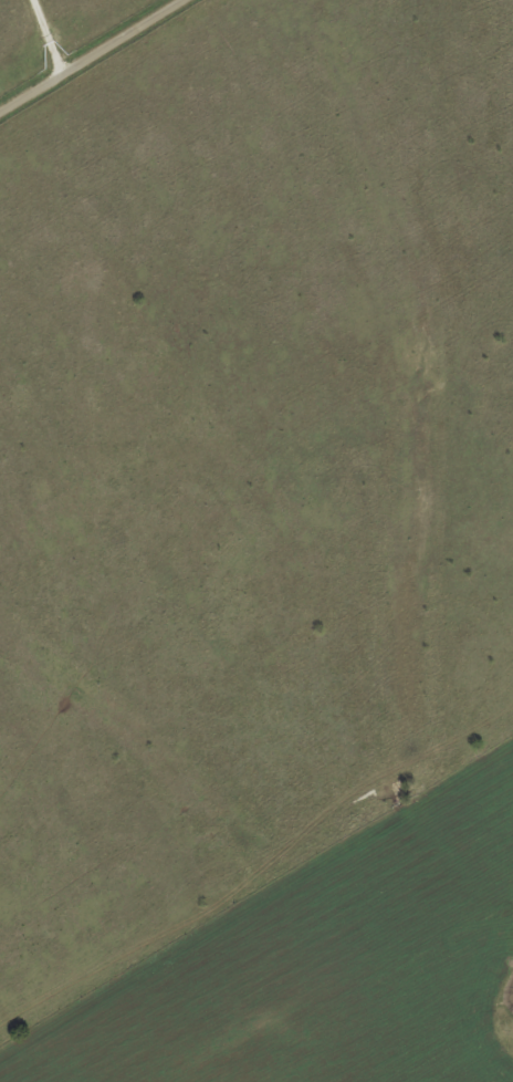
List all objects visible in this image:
road: (90, 54)

